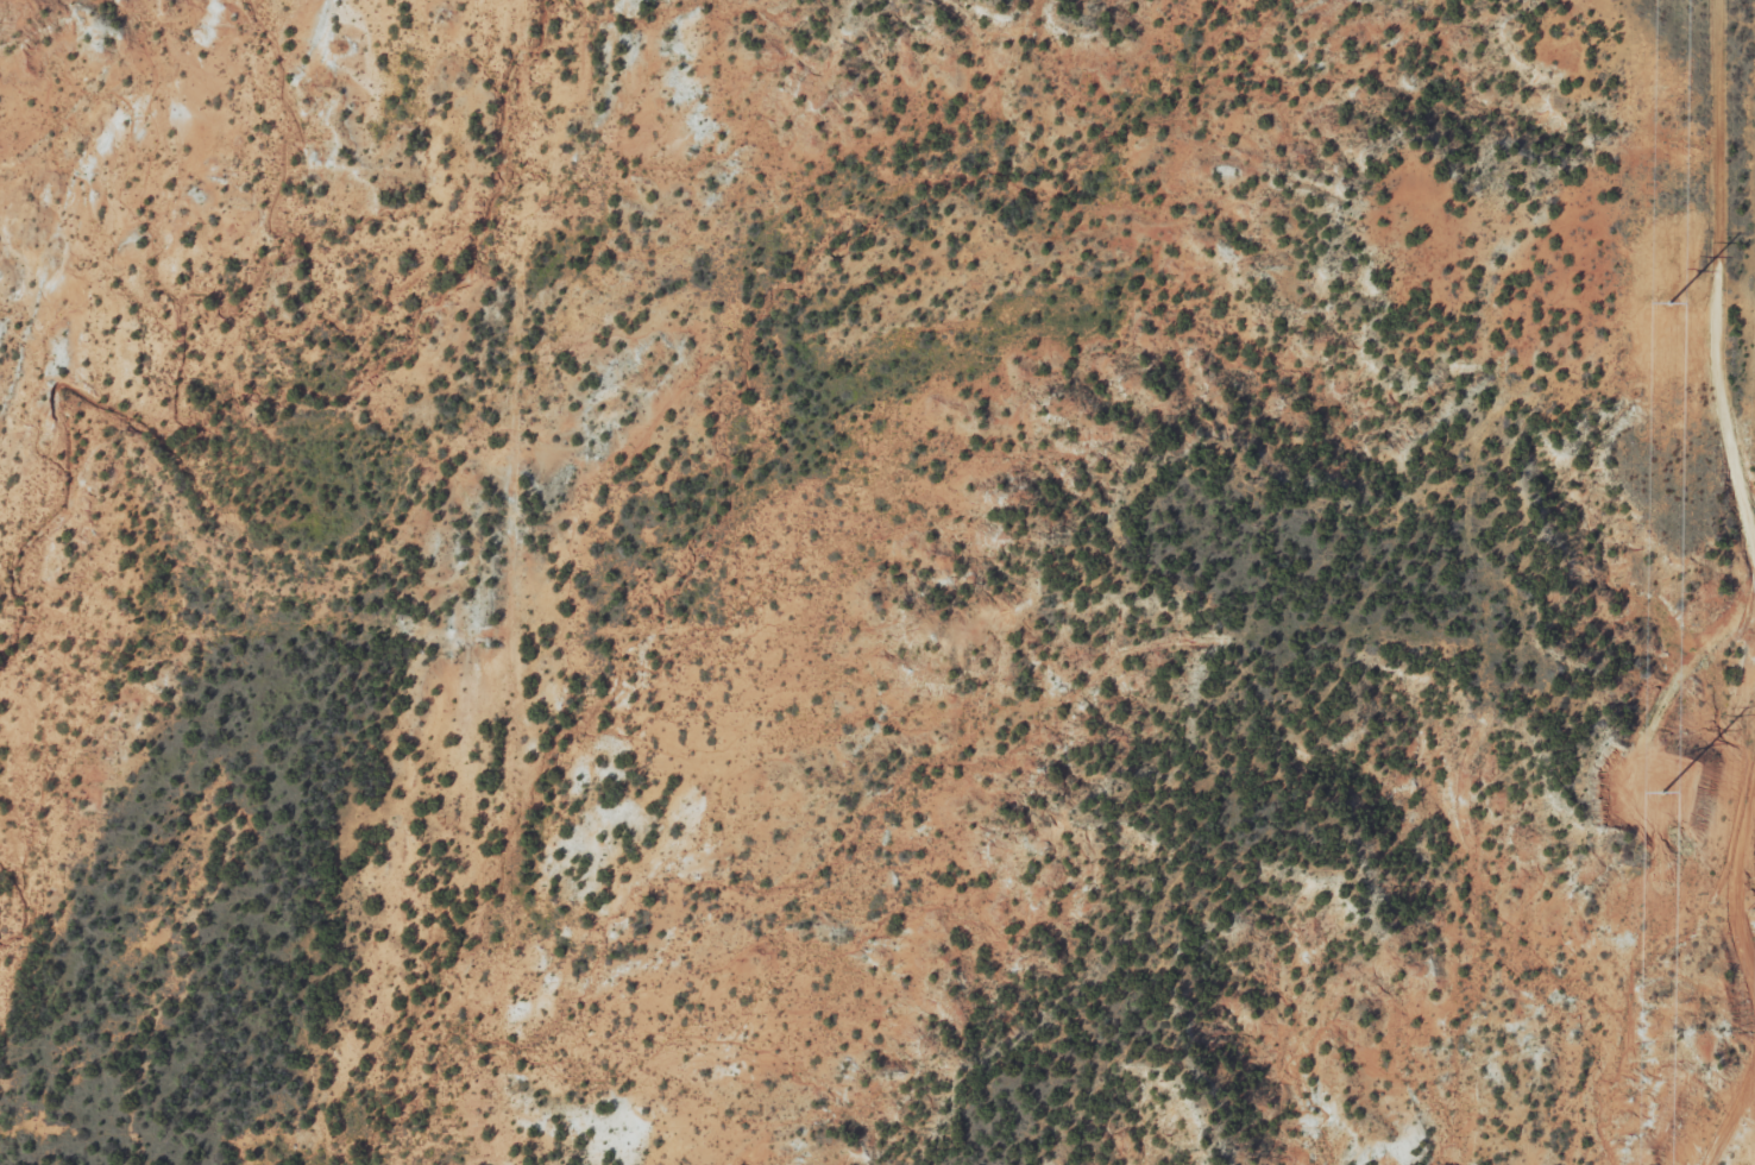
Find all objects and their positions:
power tower: (1669, 302)
power tower: (1662, 792)
power tower: (1751, 908)

